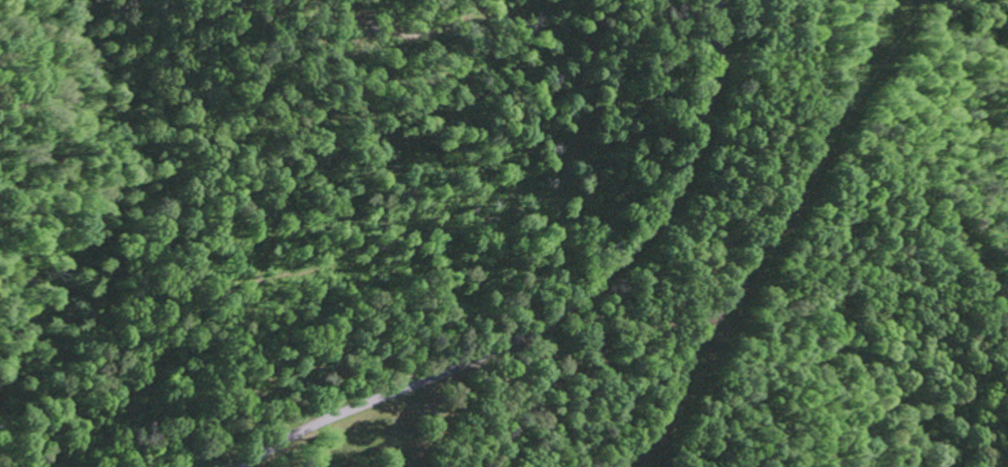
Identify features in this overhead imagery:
road: (152, 181)
road: (565, 309)
road: (574, 400)

